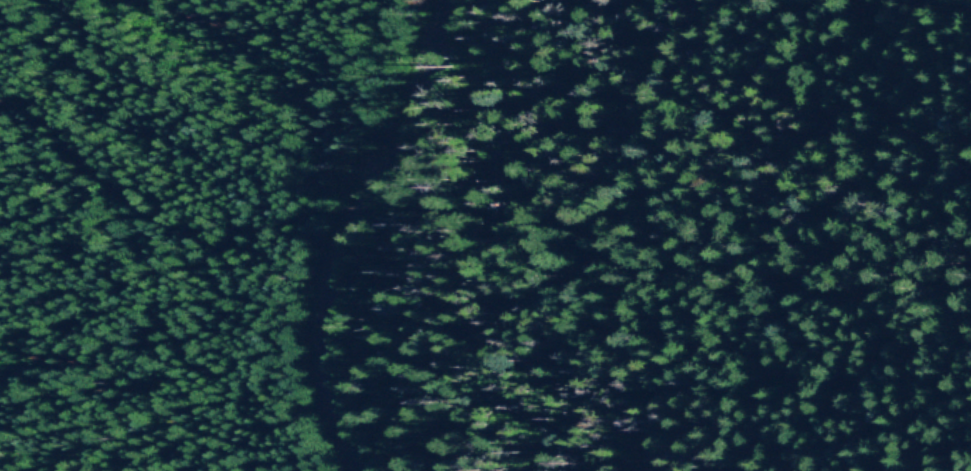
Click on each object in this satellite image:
road: (323, 231)

